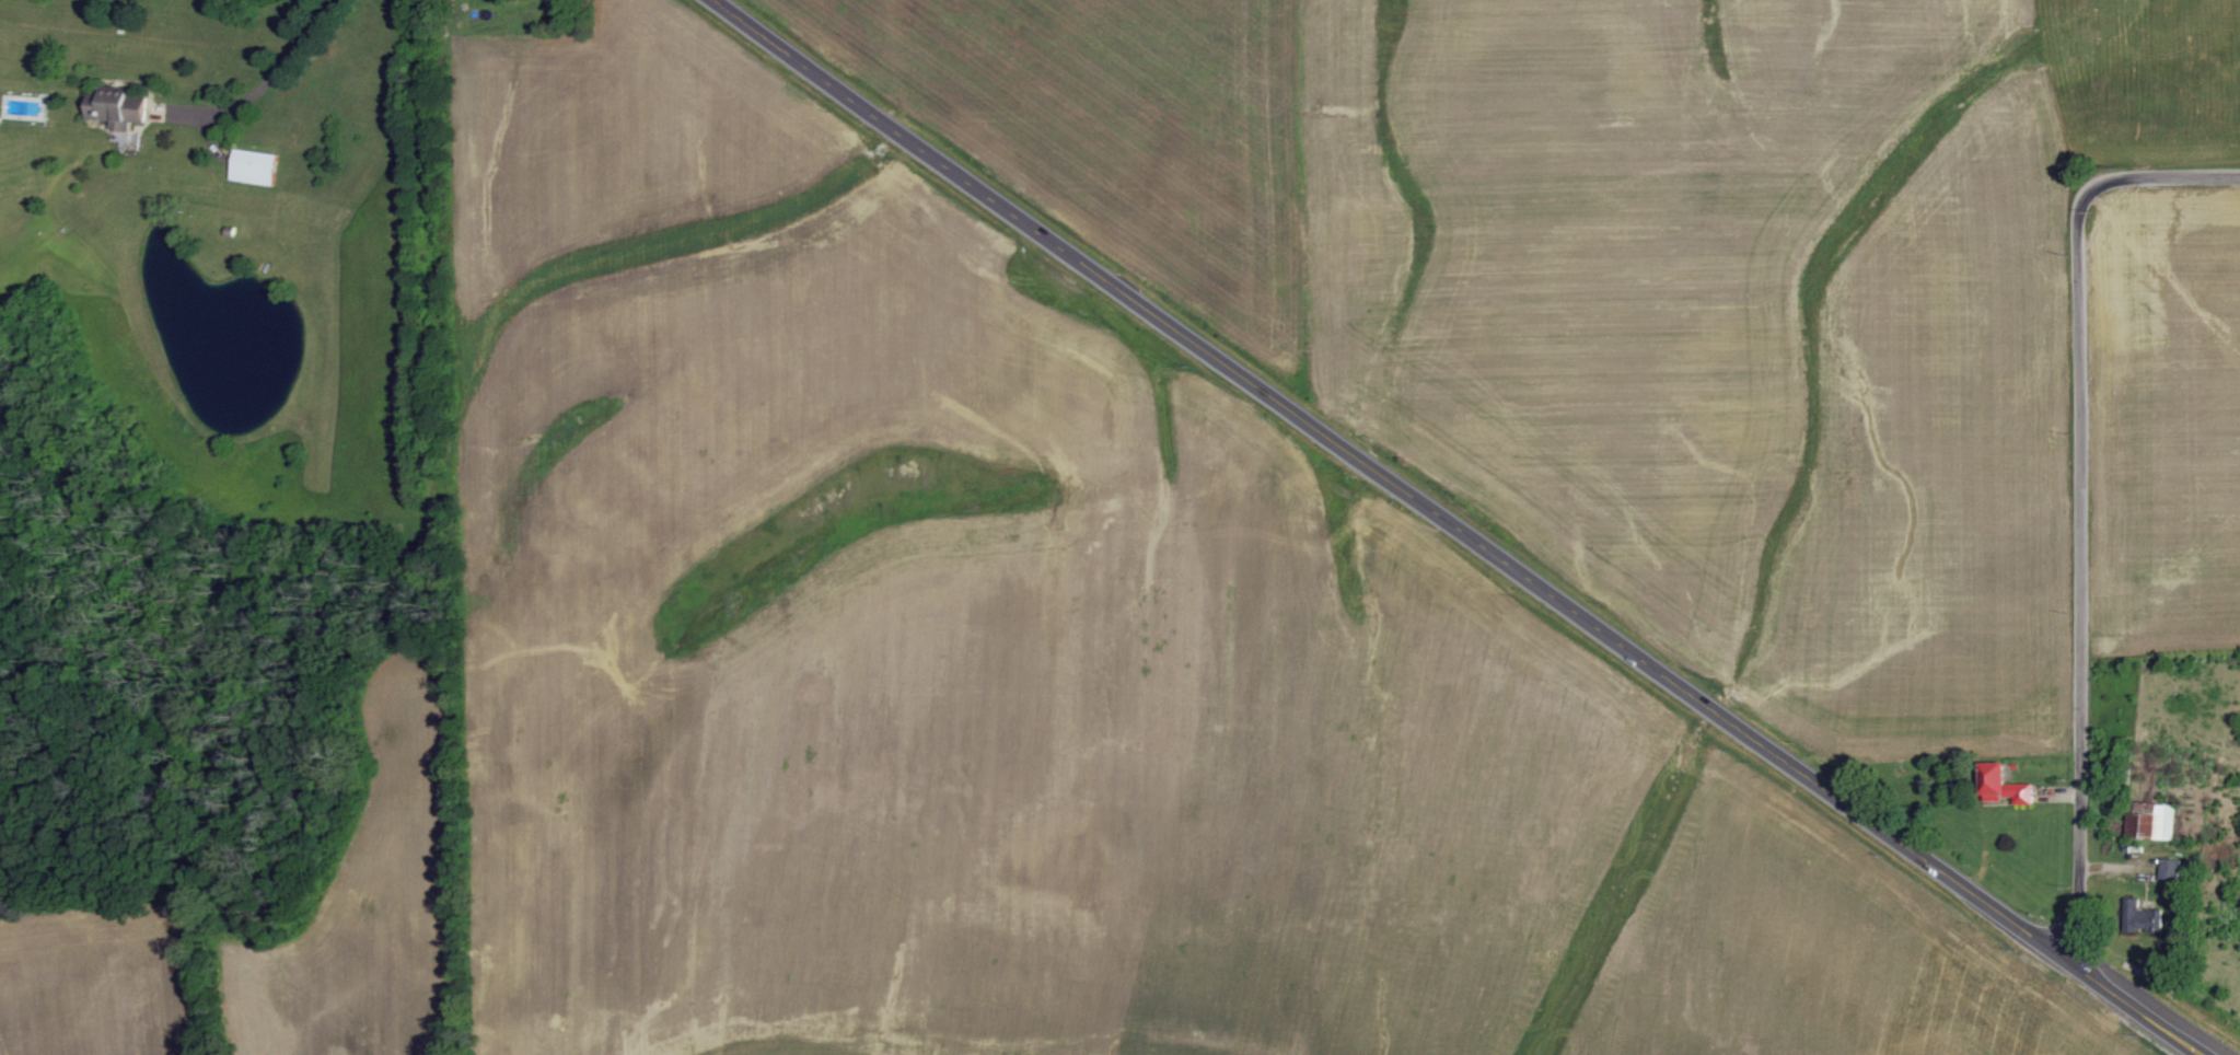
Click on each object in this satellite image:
road: (276, 69)
building: (119, 108)
building: (255, 166)
road: (2080, 497)
road: (1458, 529)
building: (2005, 786)
building: (2152, 821)
building: (2171, 870)
building: (2142, 919)

